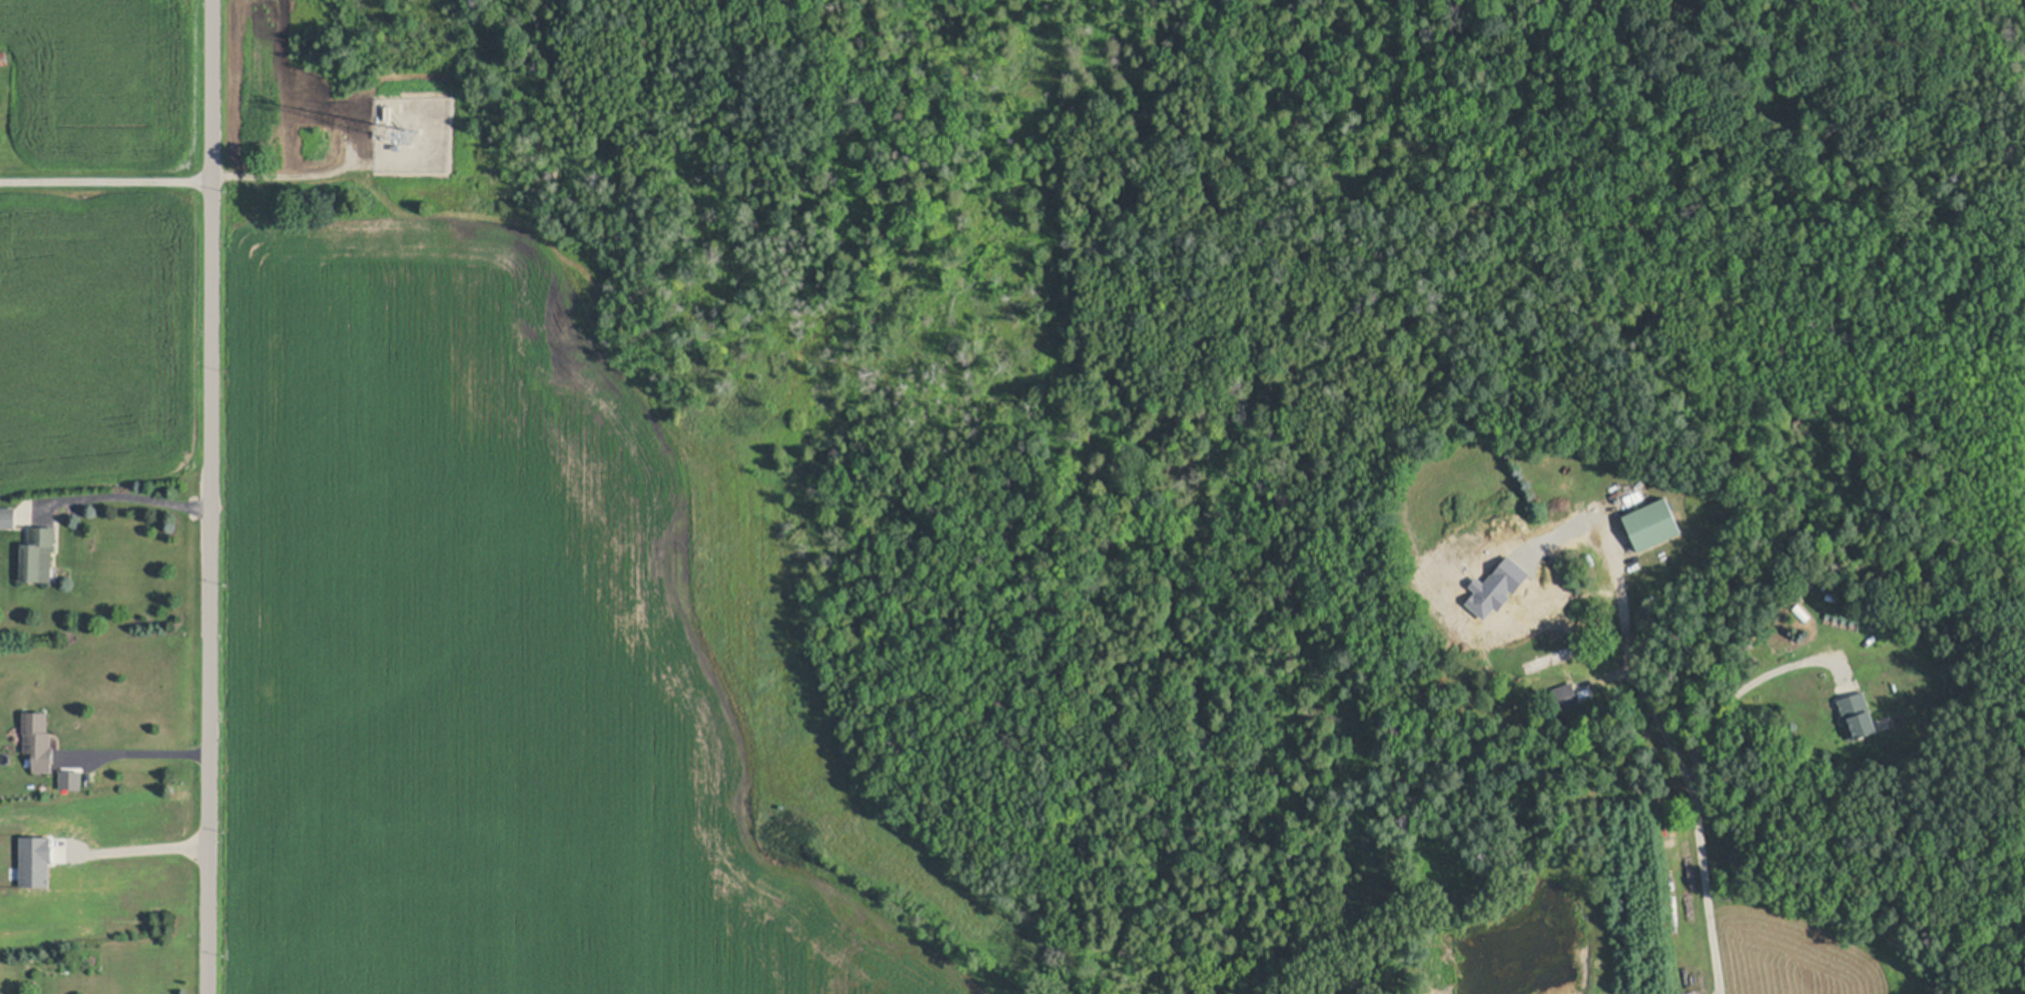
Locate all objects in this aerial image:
building: (4, 58)
building: (389, 112)
road: (105, 176)
road: (122, 491)
road: (212, 497)
building: (7, 517)
building: (1654, 523)
building: (38, 554)
building: (1502, 589)
building: (1797, 591)
building: (1833, 595)
road: (1630, 664)
building: (1565, 695)
building: (1859, 715)
building: (39, 738)
road: (139, 750)
building: (73, 781)
road: (1695, 787)
building: (38, 863)

